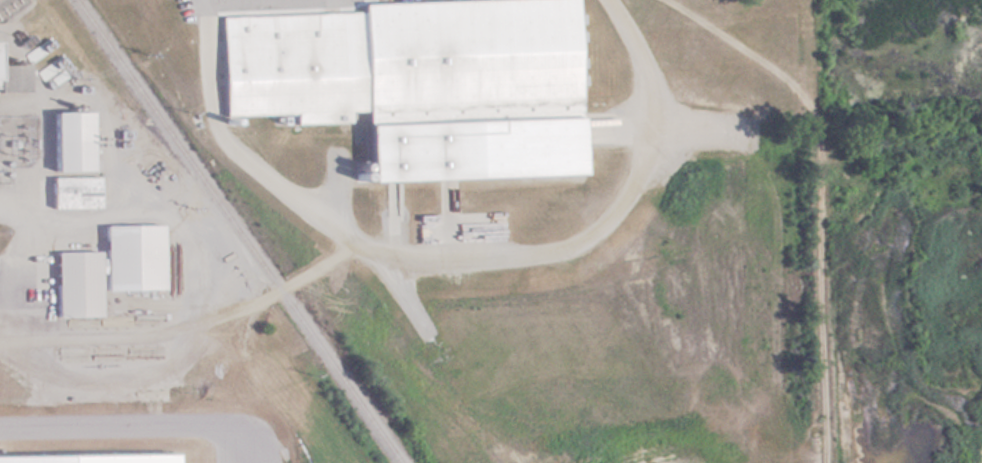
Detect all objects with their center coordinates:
building: (38, 51)
building: (398, 58)
building: (51, 66)
building: (12, 76)
building: (69, 140)
building: (74, 191)
railway: (241, 231)
building: (108, 268)
road: (146, 425)

